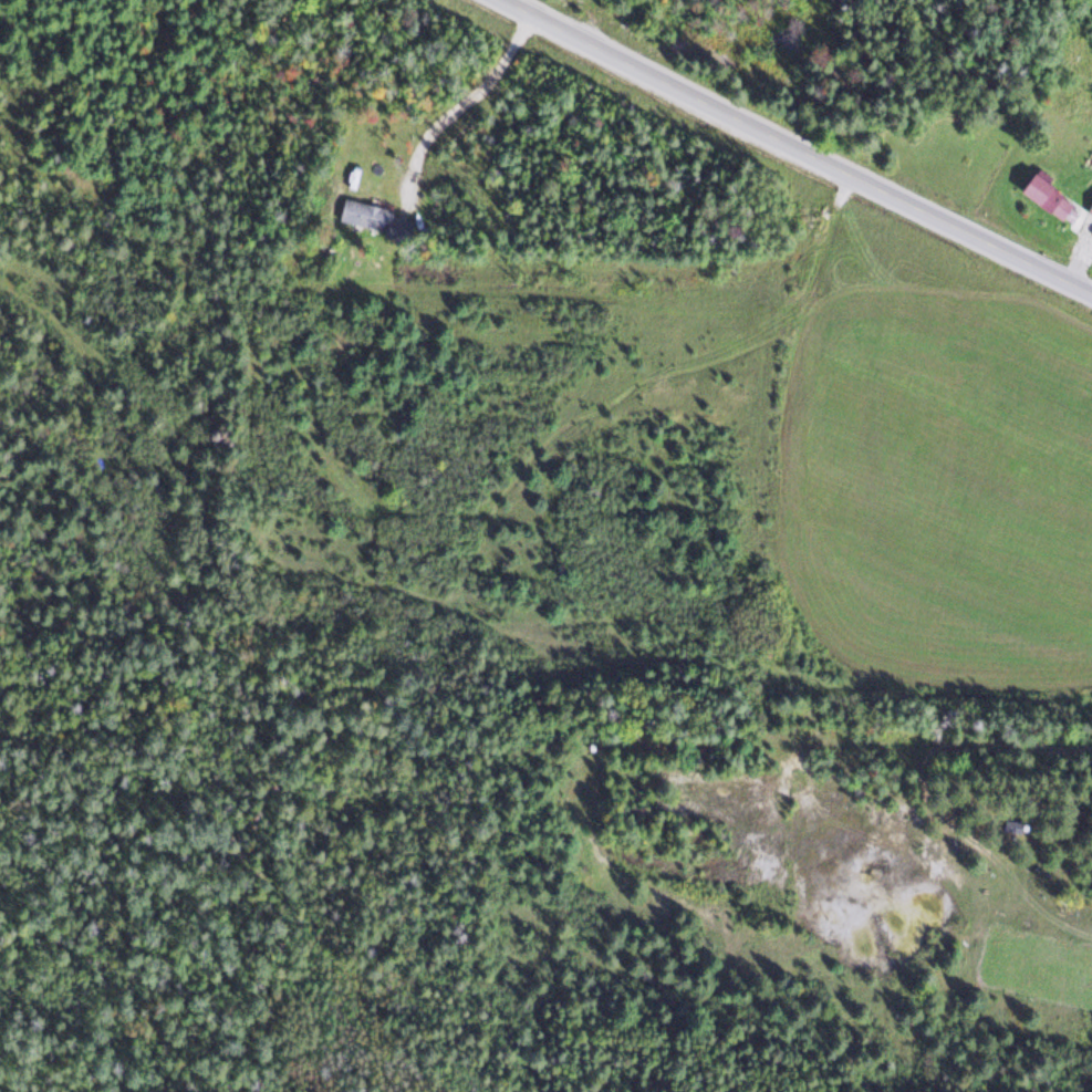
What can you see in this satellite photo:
road: (678, 87)
building: (1046, 197)
building: (1090, 206)
building: (364, 214)
road: (971, 233)
road: (989, 740)
building: (1012, 824)
quarry: (819, 855)

